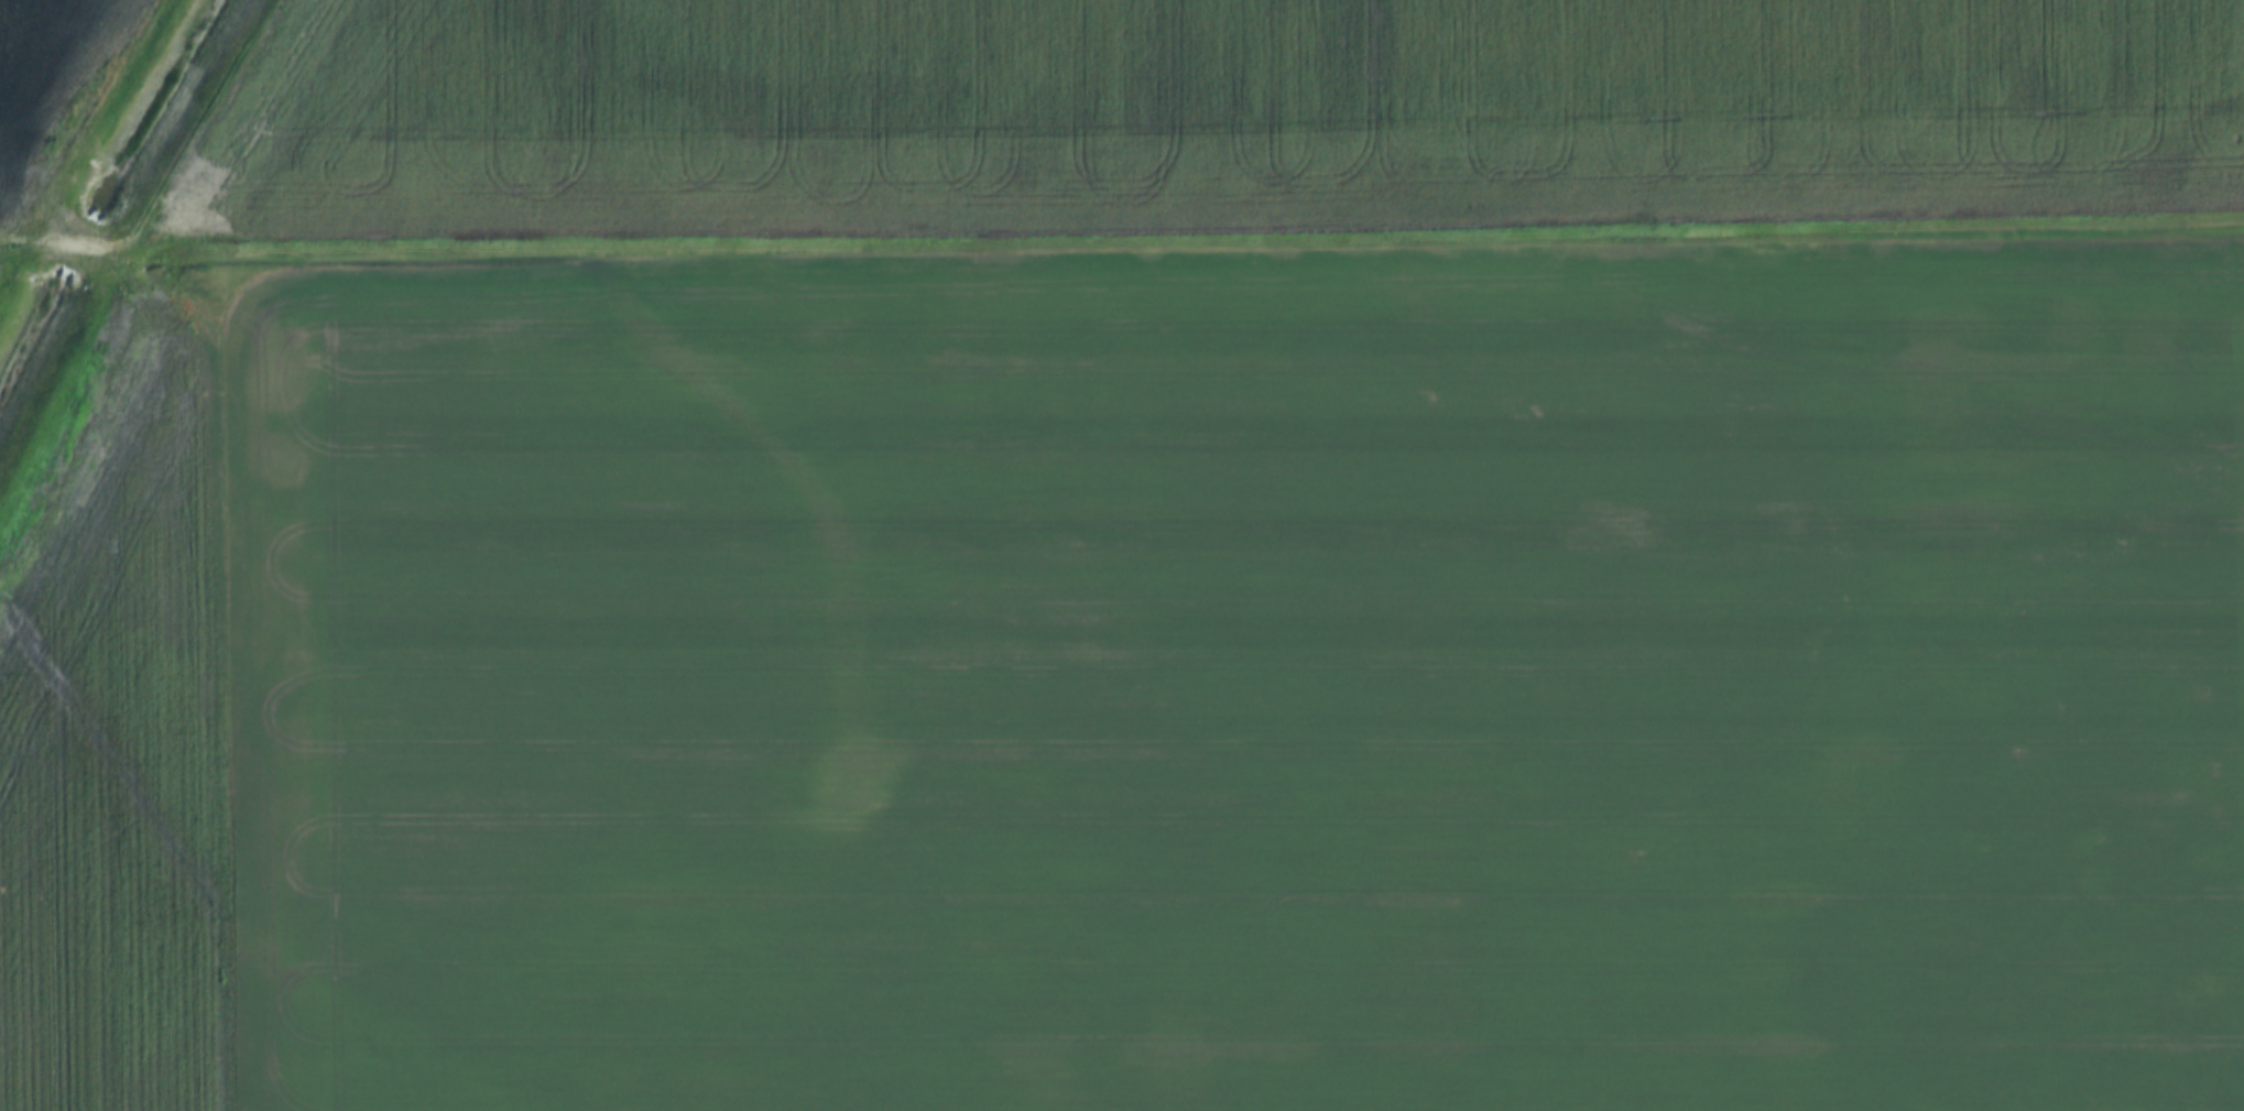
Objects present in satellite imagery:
road: (85, 111)
road: (1199, 232)

